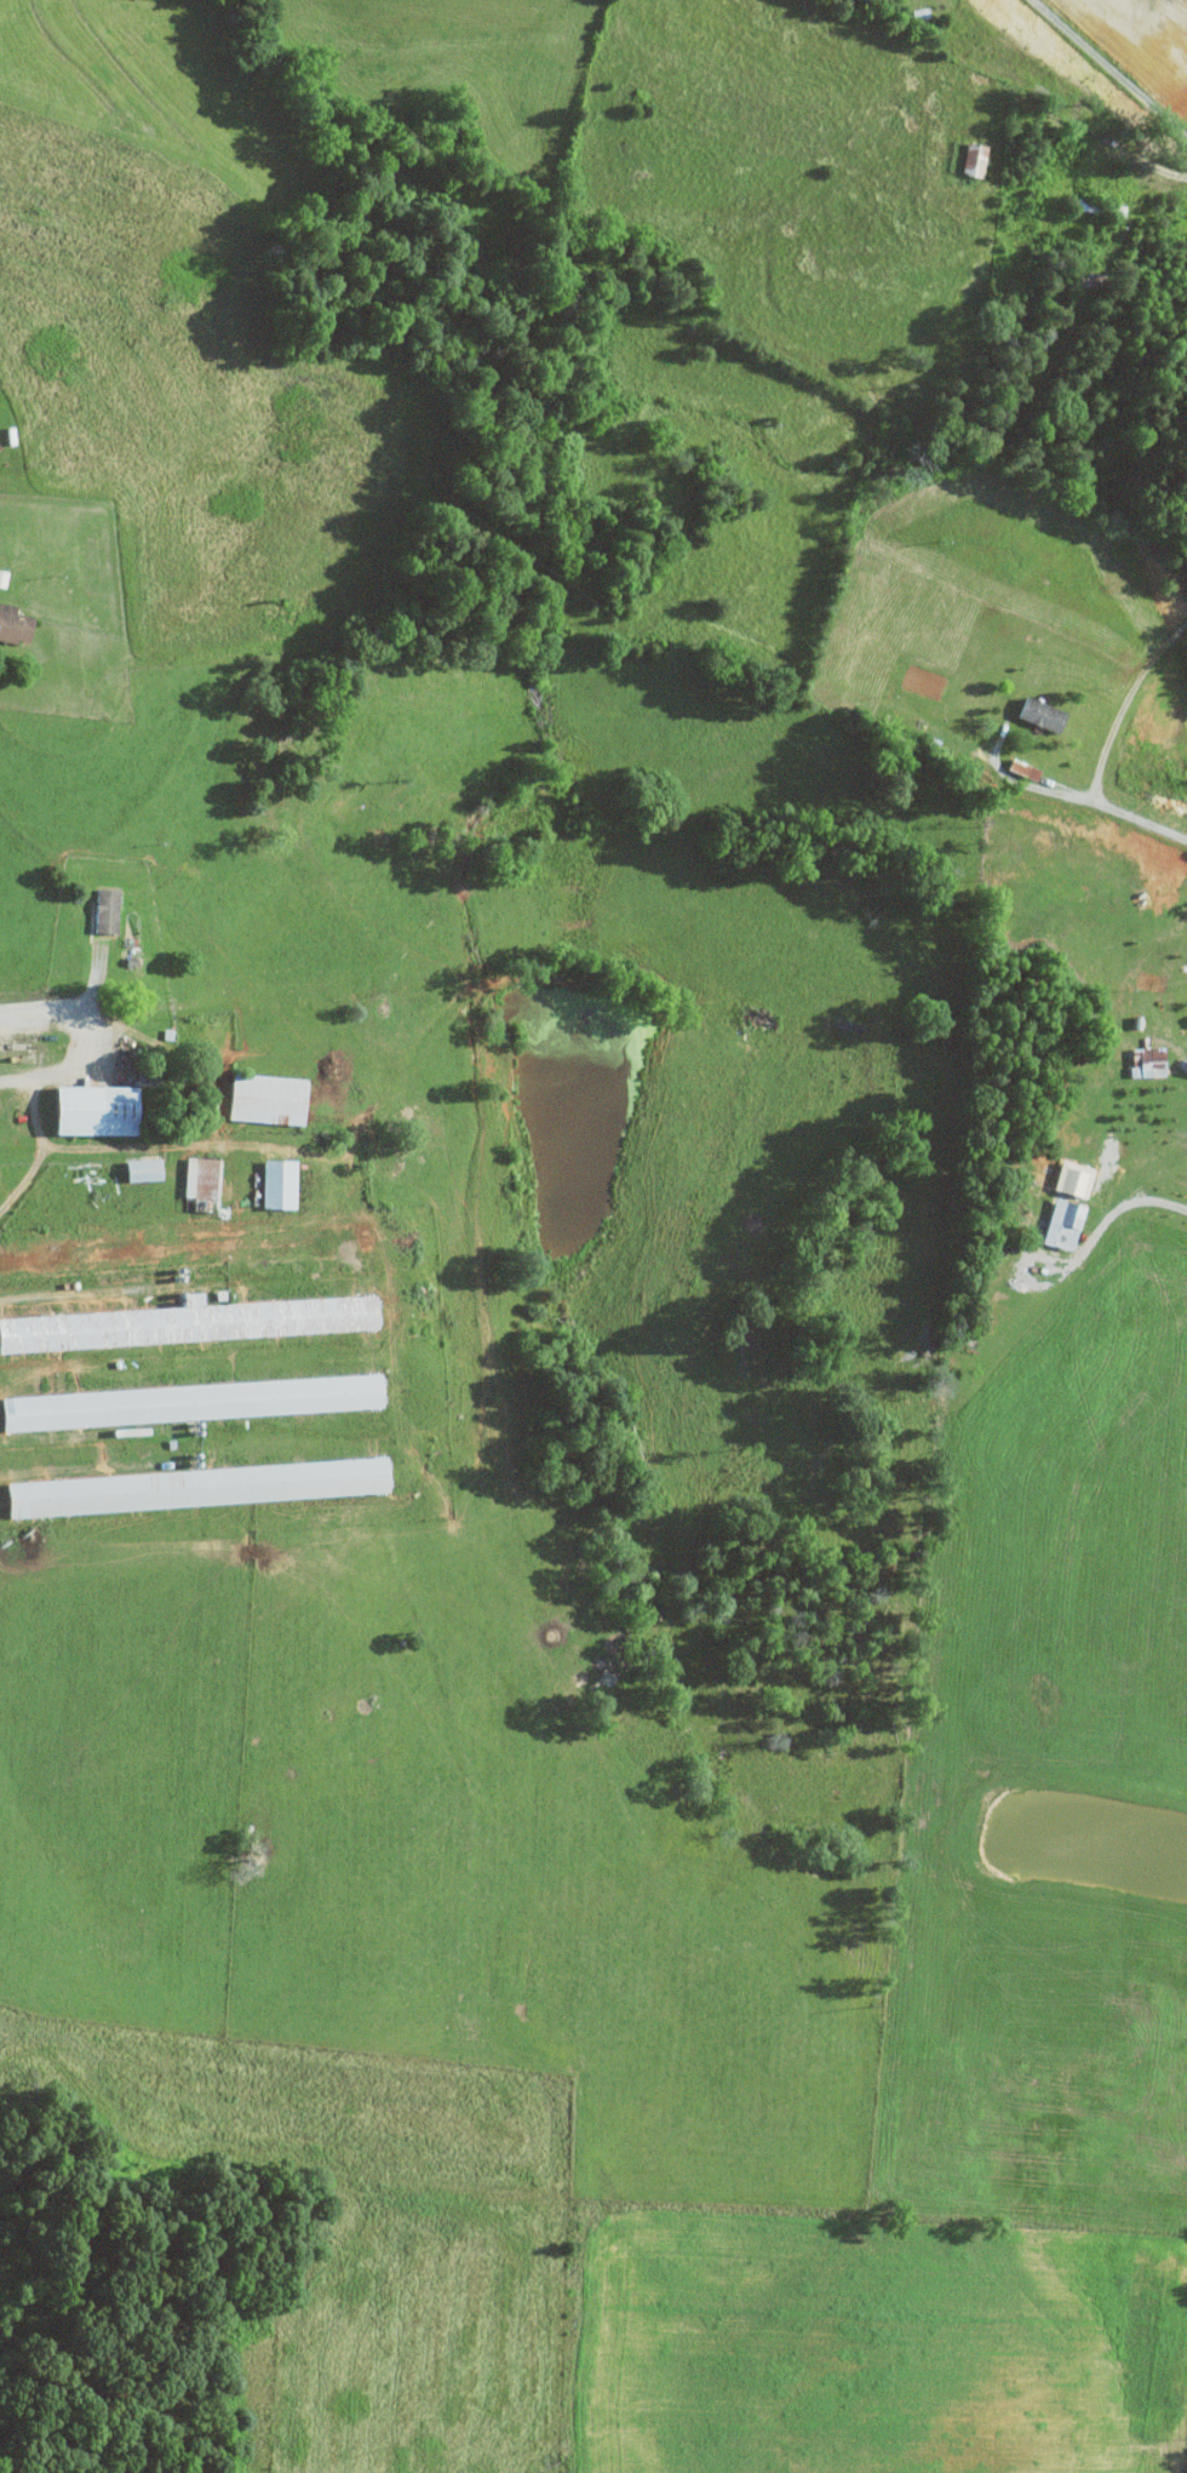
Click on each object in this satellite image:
road: (1107, 71)
building: (970, 160)
building: (11, 623)
road: (1124, 700)
building: (1036, 712)
road: (1085, 797)
building: (101, 909)
road: (103, 1036)
building: (1142, 1061)
building: (260, 1098)
building: (86, 1109)
road: (38, 1152)
building: (137, 1168)
building: (1068, 1179)
building: (195, 1183)
building: (273, 1183)
road: (1118, 1207)
building: (1059, 1223)
building: (188, 1322)
building: (188, 1401)
building: (193, 1487)

